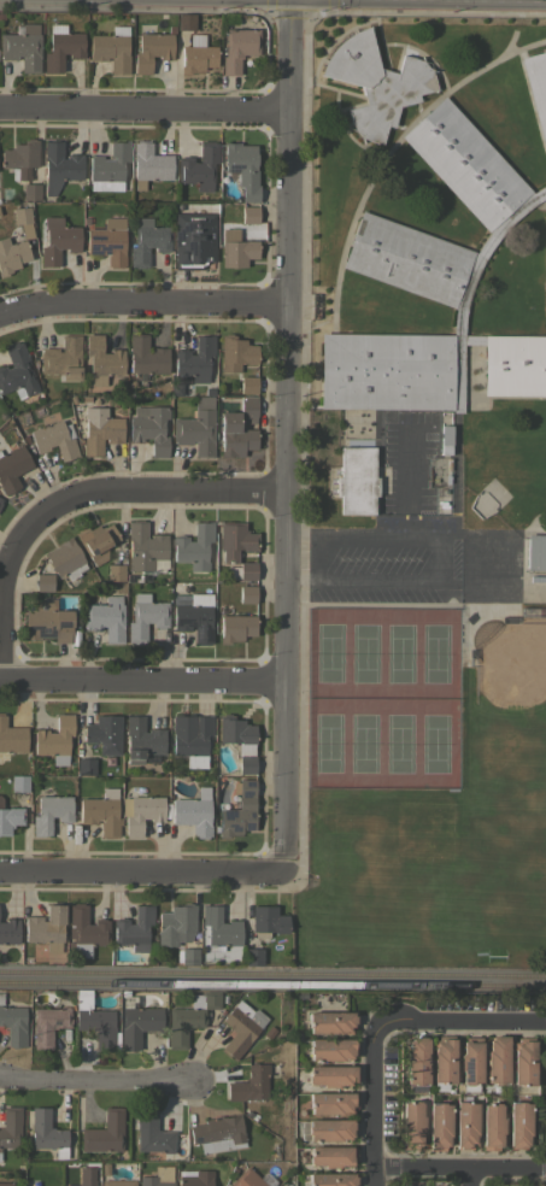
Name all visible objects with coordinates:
building: (184, 22)
building: (22, 46)
building: (61, 47)
building: (237, 47)
building: (152, 48)
building: (110, 51)
building: (196, 54)
building: (376, 82)
building: (536, 88)
road: (142, 111)
building: (20, 157)
building: (148, 164)
building: (59, 165)
building: (199, 166)
building: (108, 168)
building: (242, 168)
building: (31, 190)
building: (249, 215)
building: (23, 221)
building: (58, 240)
building: (108, 240)
building: (193, 240)
building: (147, 241)
building: (236, 248)
building: (11, 256)
building: (545, 271)
building: (434, 287)
road: (141, 307)
building: (235, 353)
building: (102, 357)
building: (147, 357)
building: (61, 358)
building: (195, 359)
building: (17, 370)
building: (248, 384)
building: (247, 409)
building: (196, 427)
building: (149, 428)
building: (99, 430)
road: (284, 434)
building: (234, 436)
building: (54, 439)
building: (445, 439)
building: (12, 468)
building: (356, 480)
road: (122, 494)
building: (0, 498)
building: (0, 499)
building: (482, 501)
building: (0, 504)
building: (234, 540)
building: (95, 541)
building: (194, 546)
building: (145, 548)
building: (536, 551)
building: (65, 558)
road: (487, 562)
building: (247, 570)
building: (115, 573)
building: (43, 582)
road: (512, 585)
building: (247, 594)
building: (105, 617)
building: (145, 617)
building: (195, 617)
building: (49, 623)
building: (235, 627)
road: (142, 682)
building: (104, 733)
building: (236, 733)
building: (190, 738)
building: (11, 739)
building: (54, 739)
building: (141, 739)
building: (246, 764)
building: (86, 765)
building: (19, 783)
building: (239, 811)
building: (101, 812)
building: (140, 812)
building: (193, 812)
building: (49, 814)
building: (10, 818)
road: (142, 870)
building: (266, 921)
building: (45, 924)
building: (175, 924)
building: (134, 928)
building: (218, 928)
building: (8, 930)
building: (83, 930)
building: (189, 956)
building: (252, 956)
railway: (272, 970)
railway: (272, 982)
building: (1, 998)
building: (189, 1017)
building: (95, 1021)
building: (136, 1021)
building: (330, 1021)
road: (376, 1021)
building: (13, 1024)
building: (48, 1024)
building: (241, 1027)
building: (331, 1049)
building: (442, 1059)
building: (497, 1059)
building: (470, 1061)
building: (523, 1061)
building: (416, 1062)
building: (330, 1075)
road: (94, 1079)
building: (251, 1082)
building: (331, 1102)
building: (465, 1123)
building: (411, 1125)
building: (518, 1125)
building: (438, 1126)
building: (492, 1126)
building: (10, 1127)
building: (325, 1129)
building: (47, 1133)
building: (104, 1133)
building: (152, 1133)
building: (217, 1133)
building: (331, 1156)
road: (457, 1170)
building: (86, 1176)
building: (194, 1178)
building: (251, 1179)
building: (331, 1179)
road: (470, 1179)
building: (153, 1181)
building: (117, 1182)
building: (6, 1184)
building: (31, 1185)

